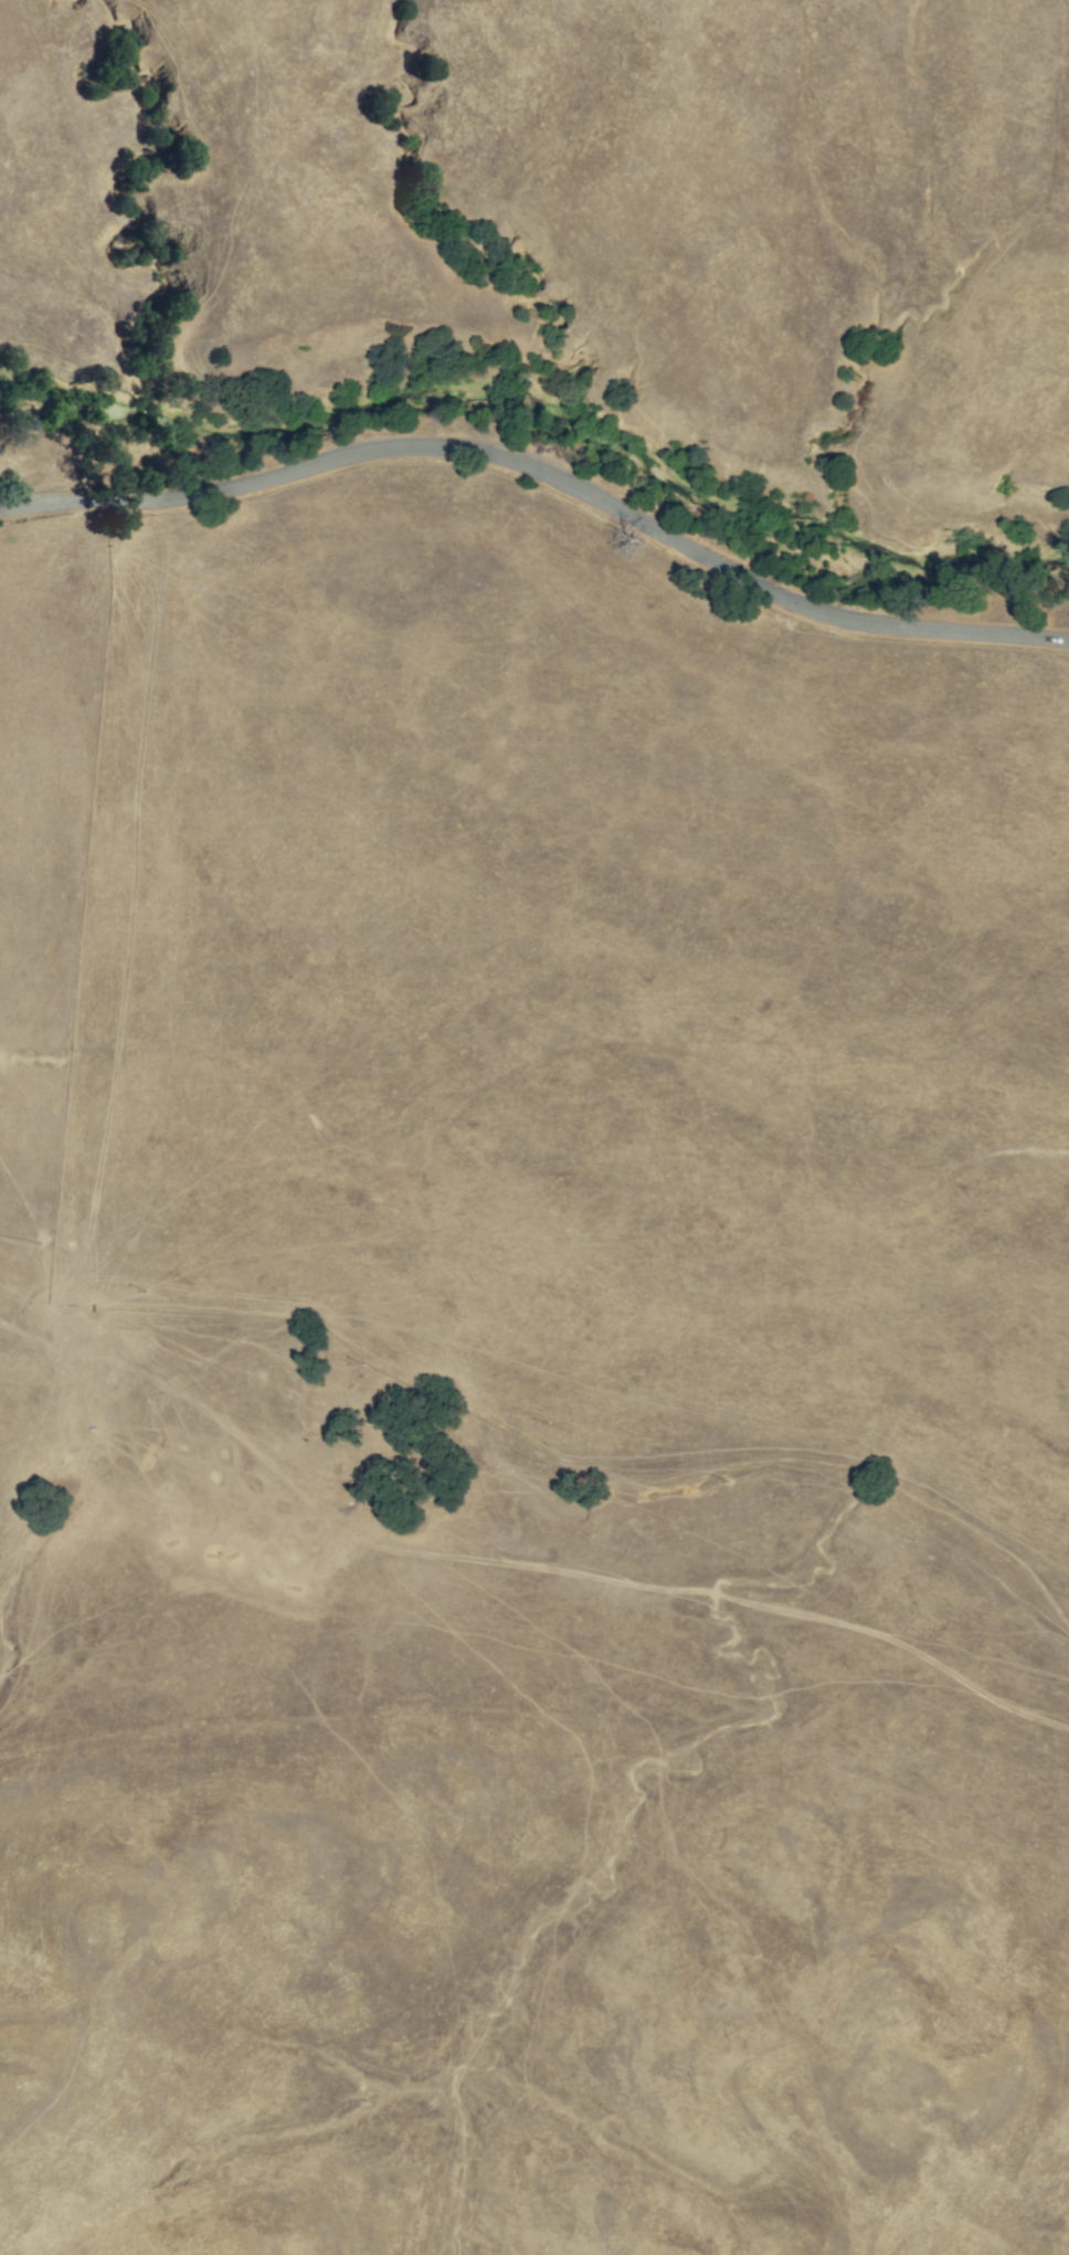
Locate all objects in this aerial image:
river: (543, 418)
road: (547, 473)

